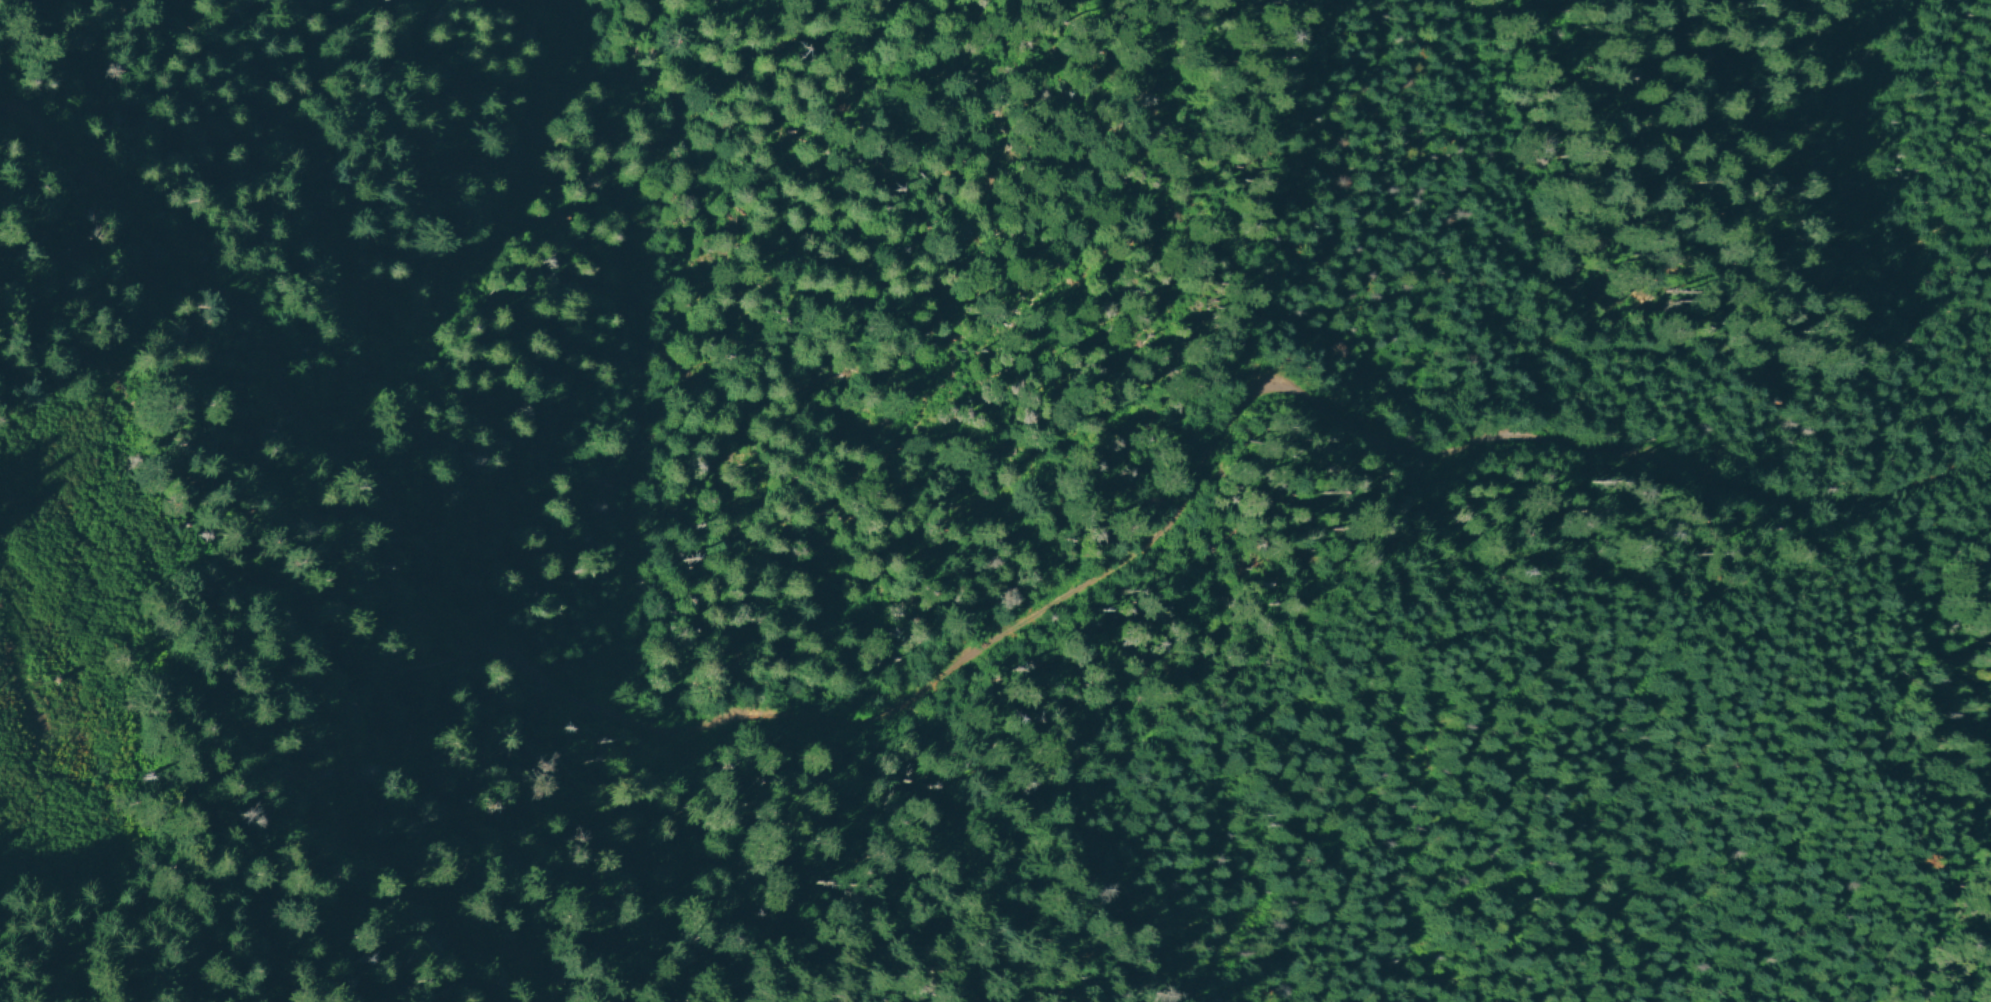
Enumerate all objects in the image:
road: (1983, 426)
road: (1774, 431)
road: (1289, 508)
road: (930, 691)

